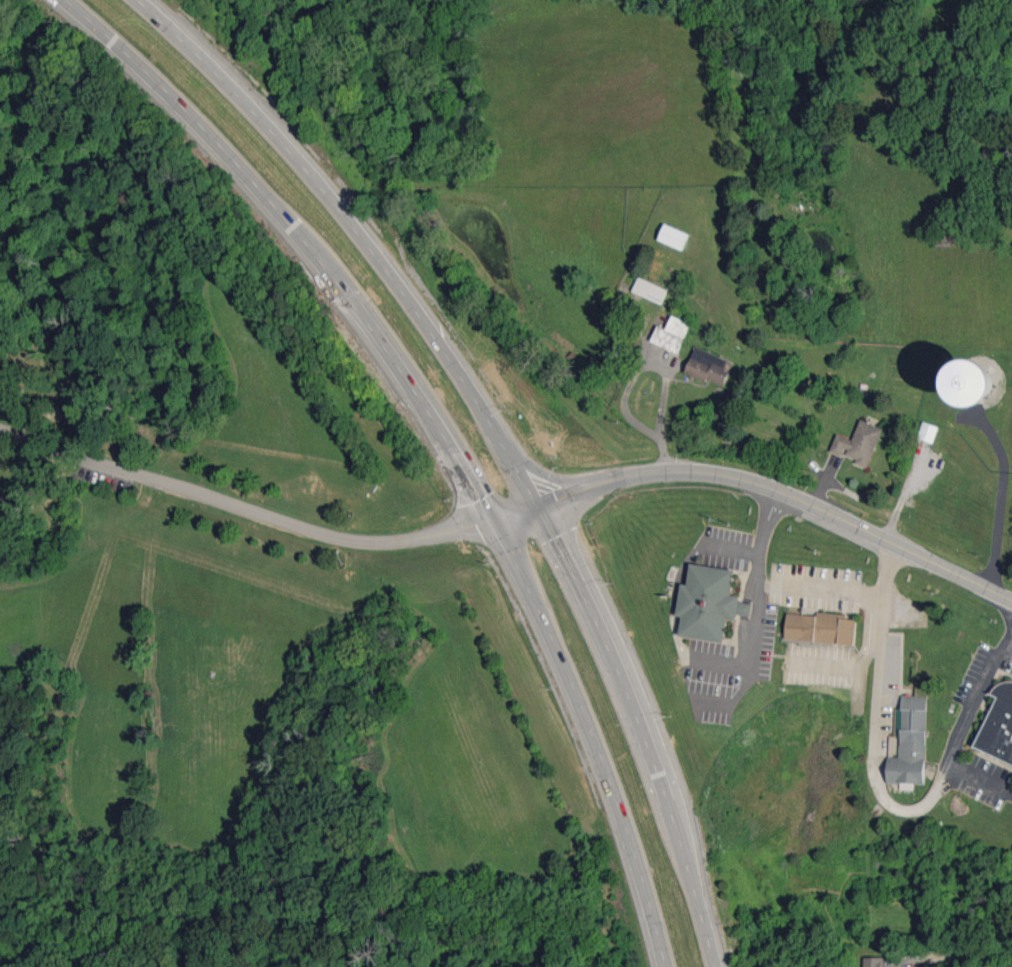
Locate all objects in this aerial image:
building: (674, 236)
building: (650, 290)
building: (672, 334)
road: (659, 362)
building: (708, 366)
building: (978, 383)
water tower: (975, 386)
building: (927, 431)
road: (442, 435)
road: (990, 438)
road: (499, 441)
building: (858, 443)
parking lot: (107, 480)
road: (51, 485)
road: (759, 485)
road: (243, 506)
road: (992, 529)
road: (733, 542)
road: (821, 586)
road: (756, 602)
building: (709, 603)
building: (820, 628)
road: (1009, 648)
road: (861, 657)
building: (998, 724)
building: (909, 743)
road: (976, 777)
road: (880, 788)
road: (959, 956)
building: (873, 962)

